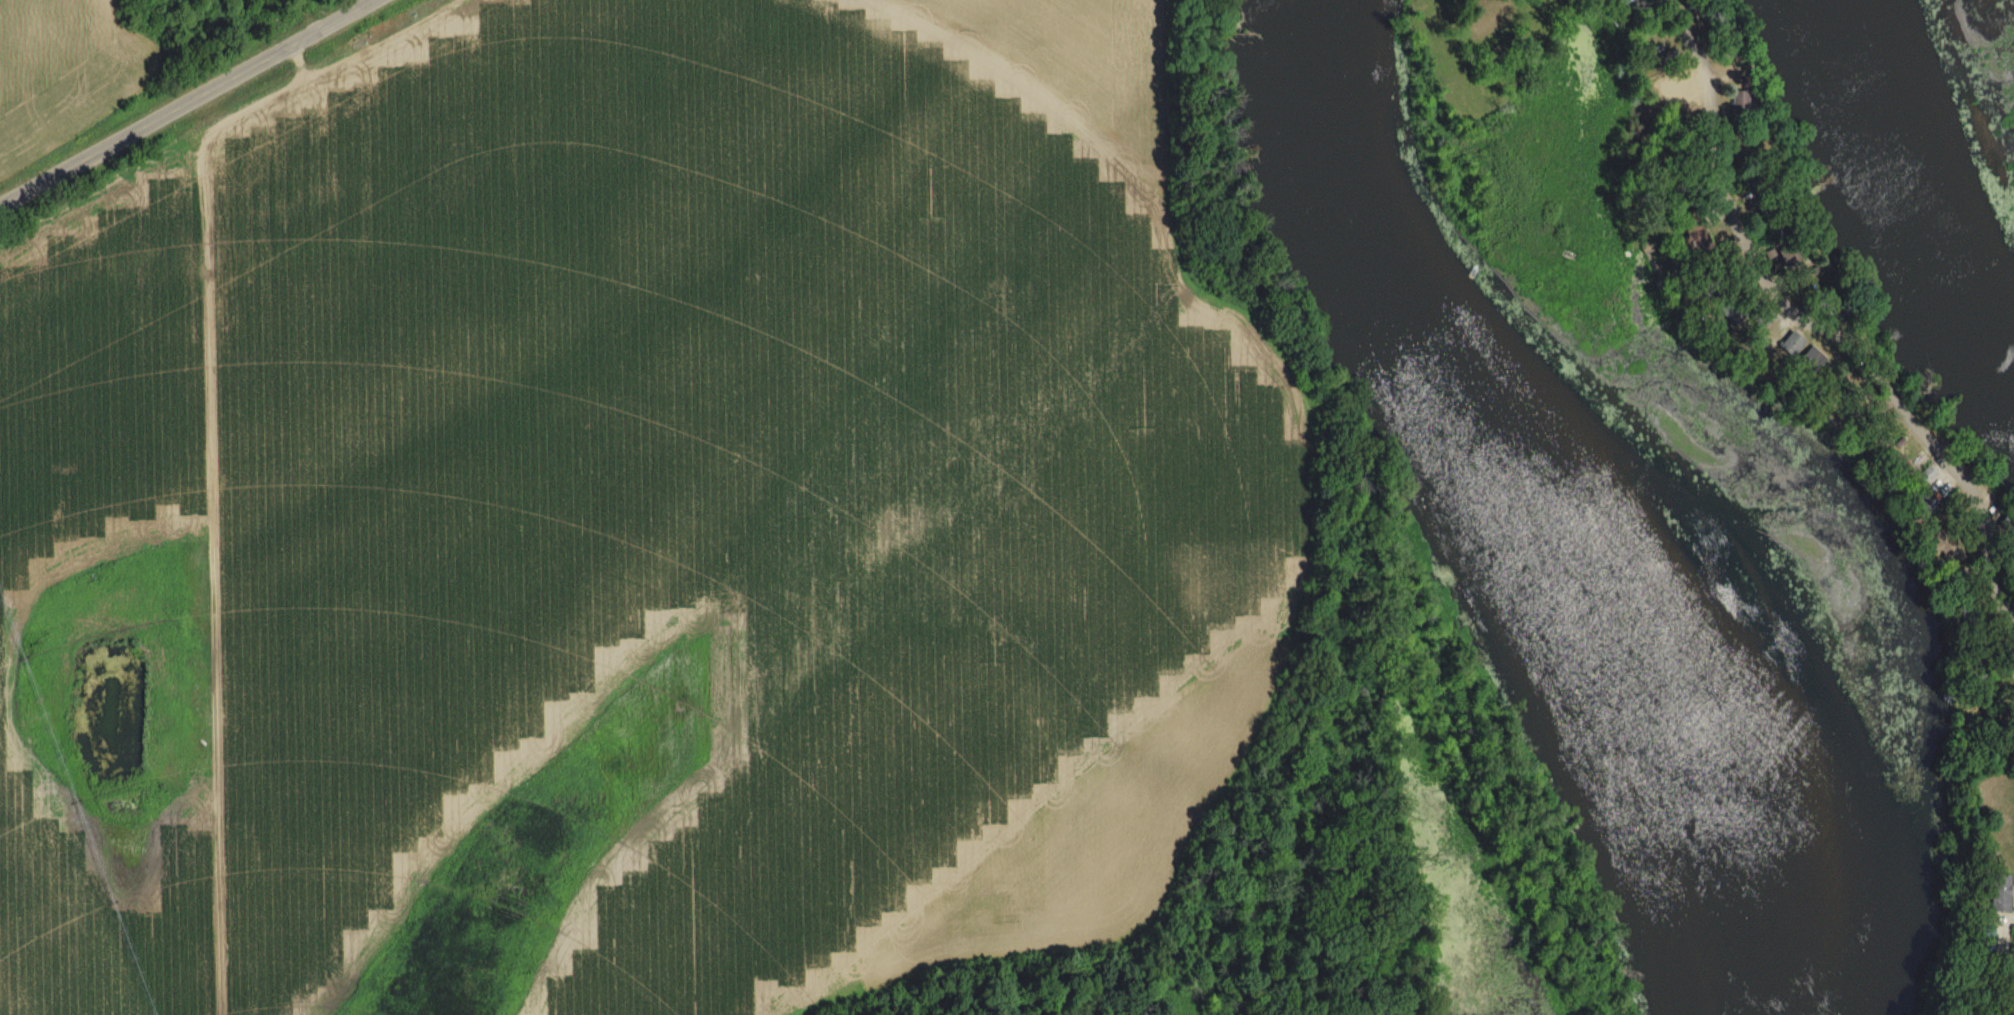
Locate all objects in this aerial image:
building: (1629, 4)
building: (1717, 25)
building: (1739, 101)
road: (187, 102)
river: (1936, 183)
building: (1762, 319)
road: (1807, 325)
building: (1790, 344)
building: (1810, 360)
building: (1926, 476)
river: (1592, 485)
building: (1922, 504)
building: (2008, 524)
building: (1998, 893)

